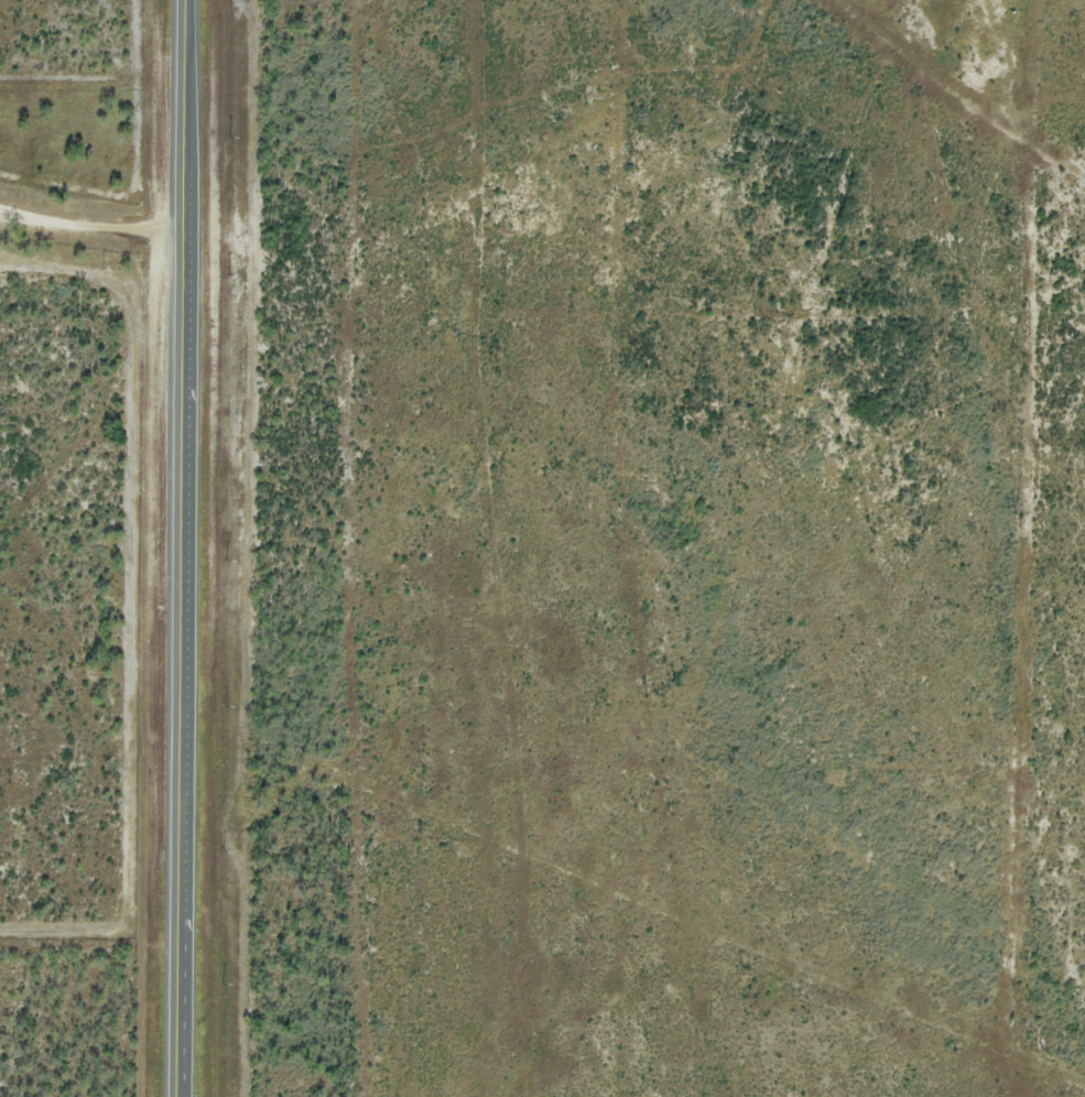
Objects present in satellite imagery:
road: (93, 231)
road: (185, 547)

